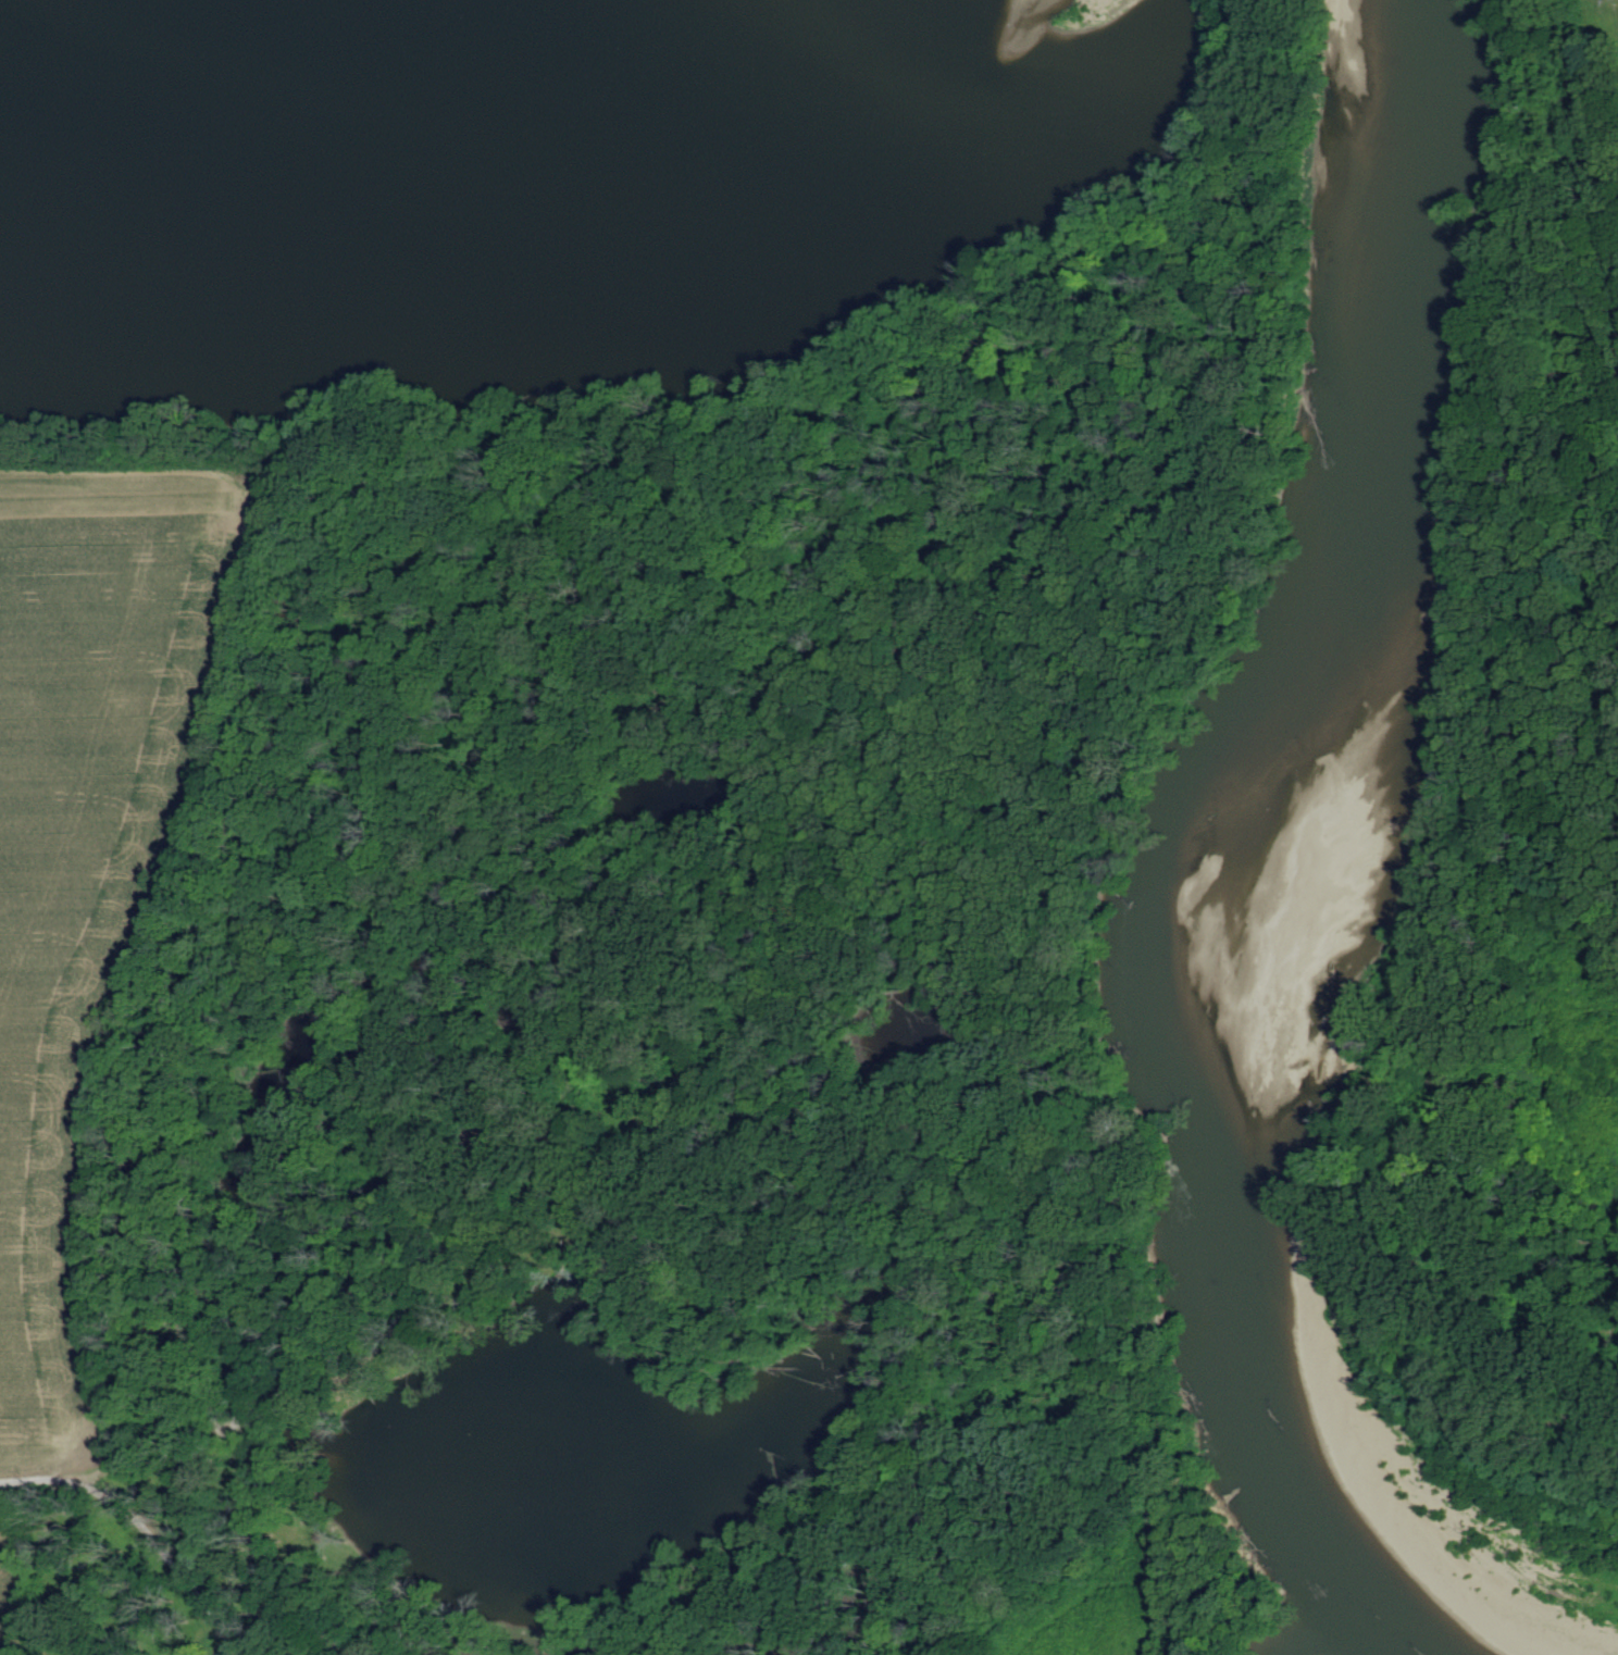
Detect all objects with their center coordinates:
river: (1204, 881)
building: (224, 1654)

